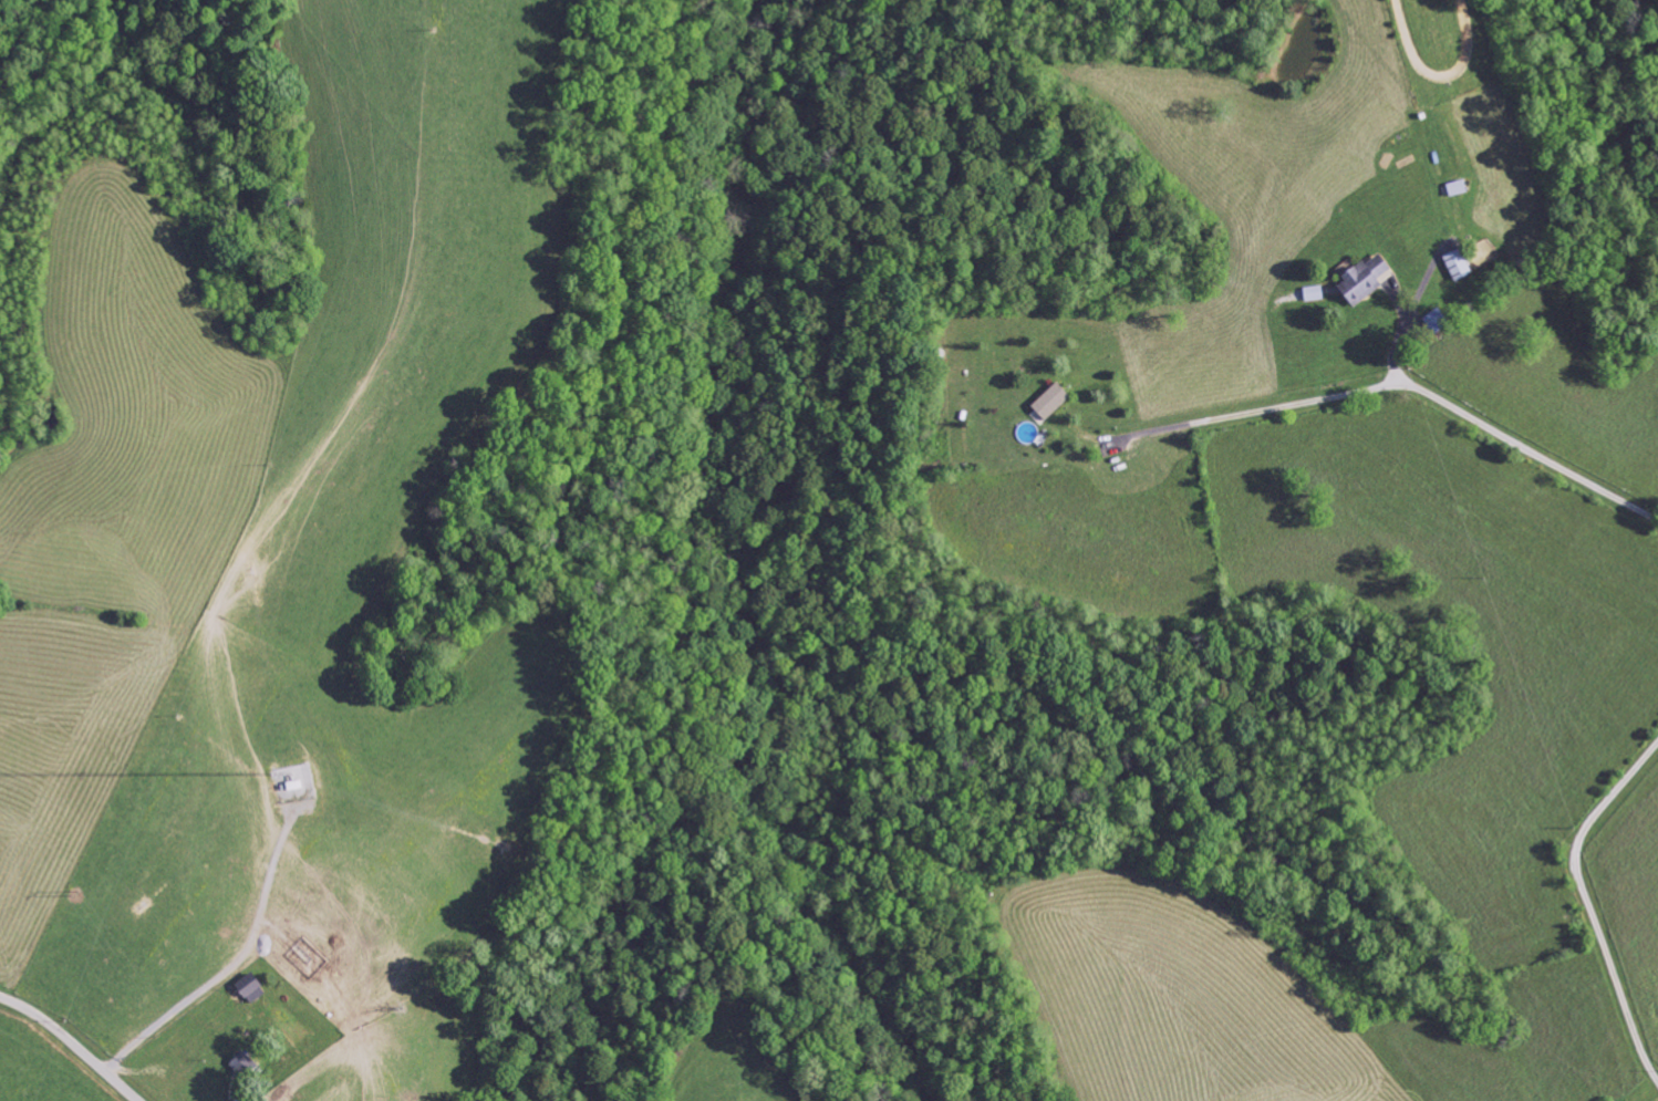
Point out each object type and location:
building: (1452, 264)
building: (1357, 281)
building: (1312, 293)
building: (1047, 402)
building: (255, 987)
road: (72, 1046)
building: (246, 1064)

